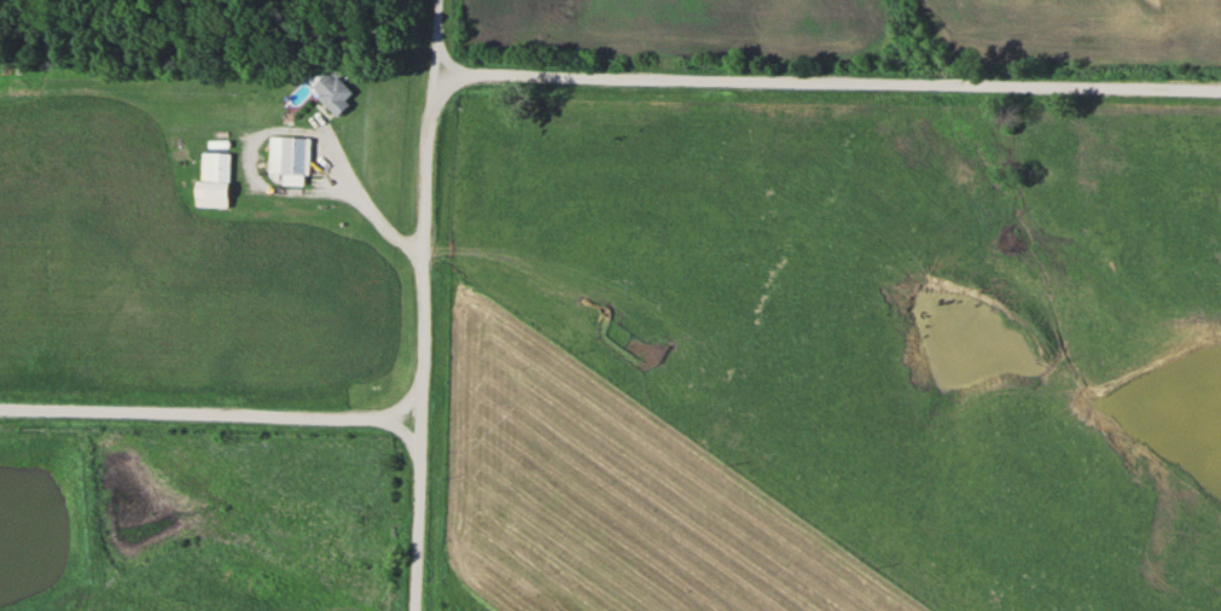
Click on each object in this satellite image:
road: (426, 42)
road: (662, 75)
building: (336, 91)
building: (292, 158)
building: (219, 179)
road: (208, 408)
road: (413, 511)

